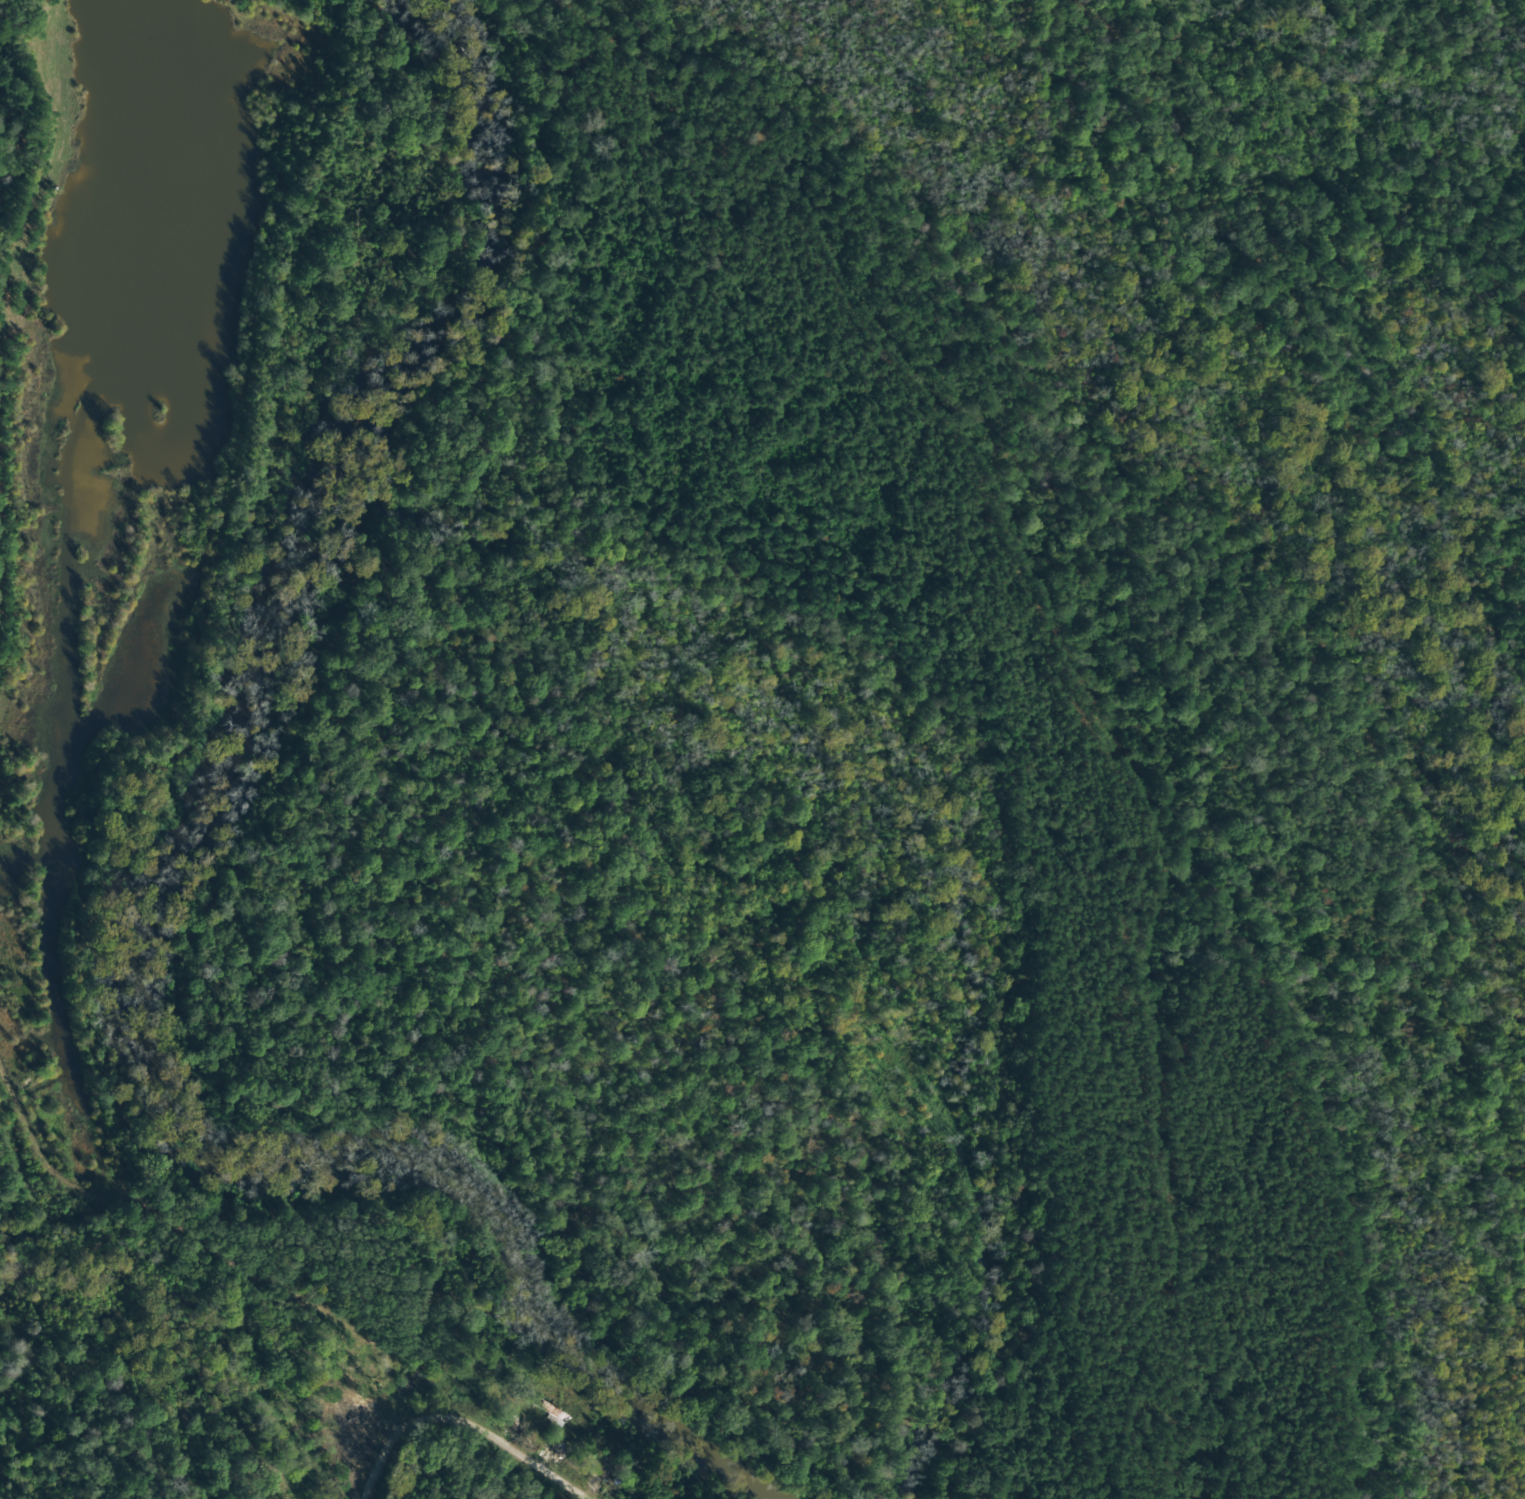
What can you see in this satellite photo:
road: (275, 1286)
road: (467, 1421)

